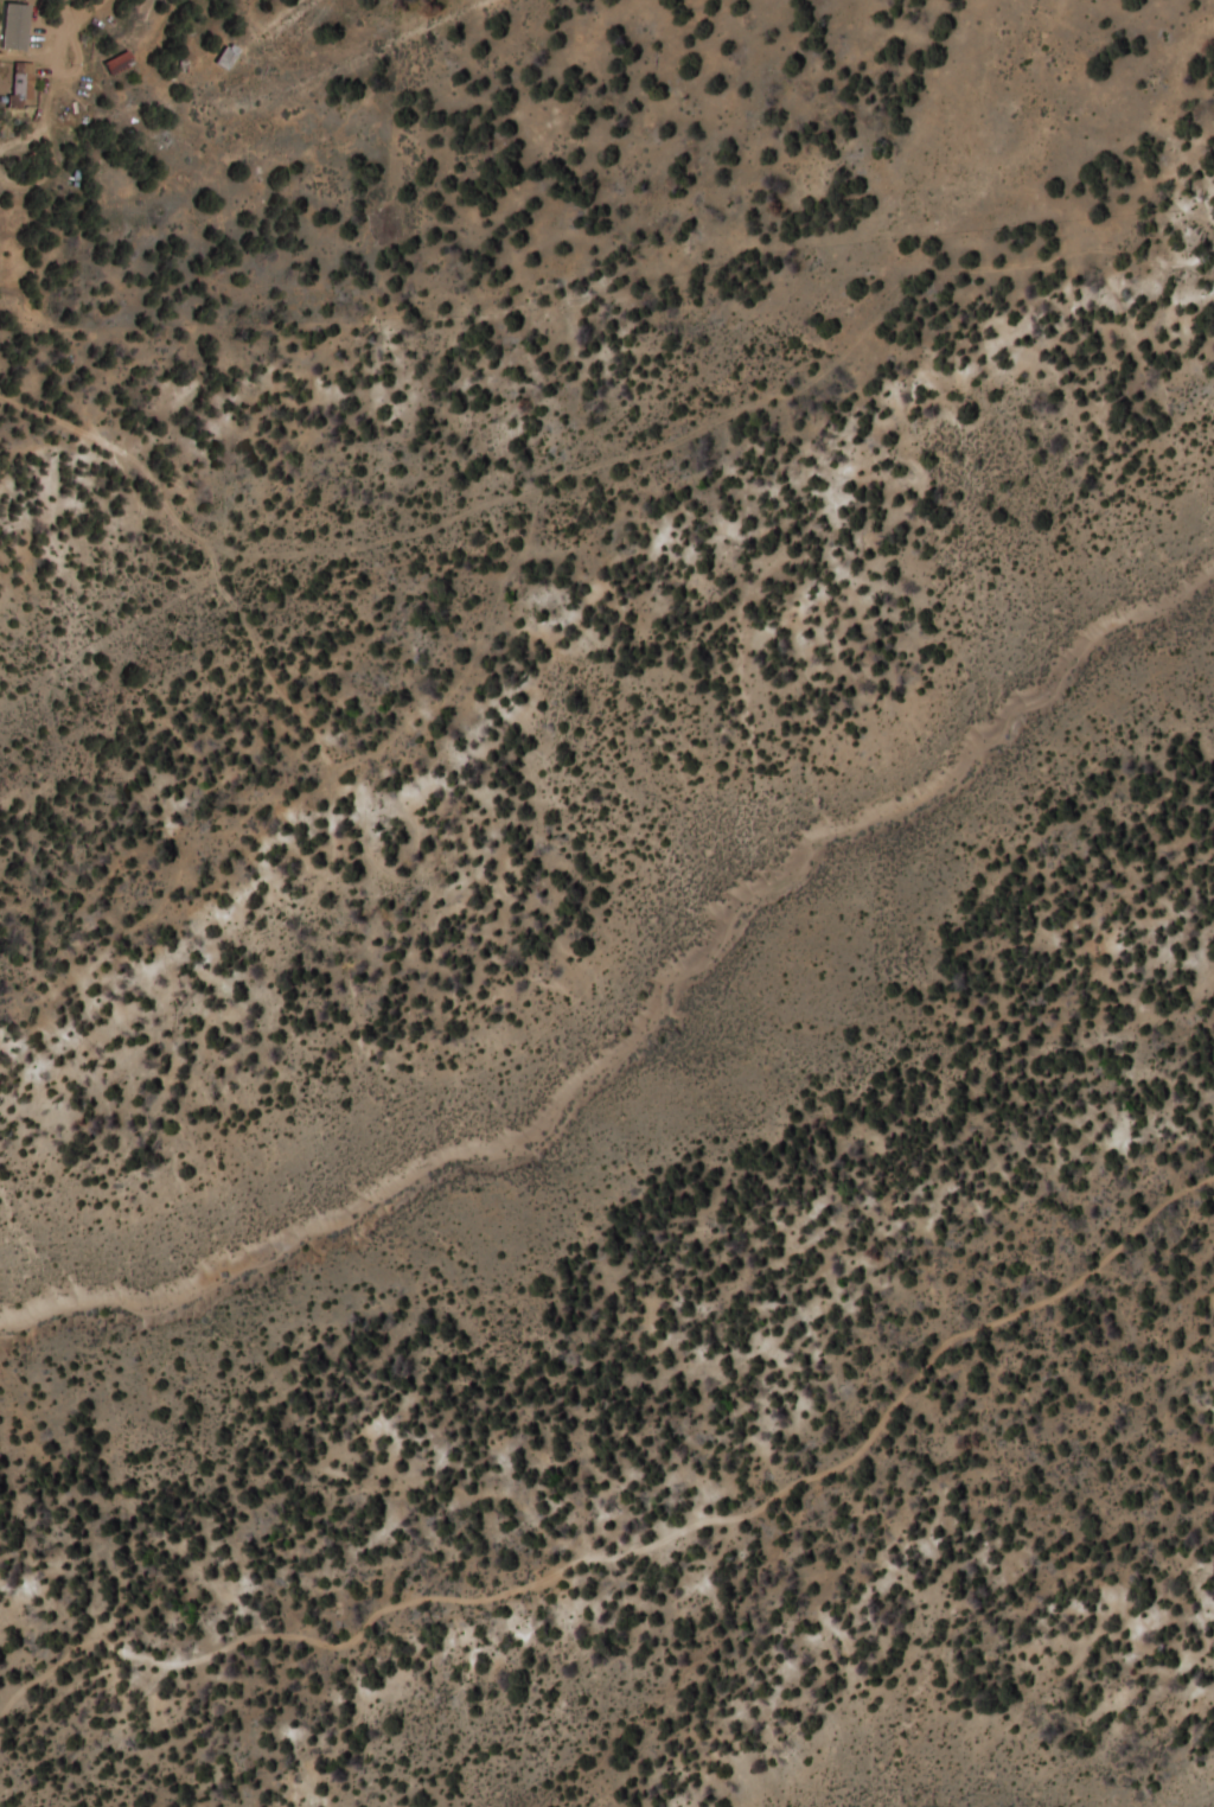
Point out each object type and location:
road: (76, 6)
road: (91, 8)
building: (9, 26)
building: (12, 83)

